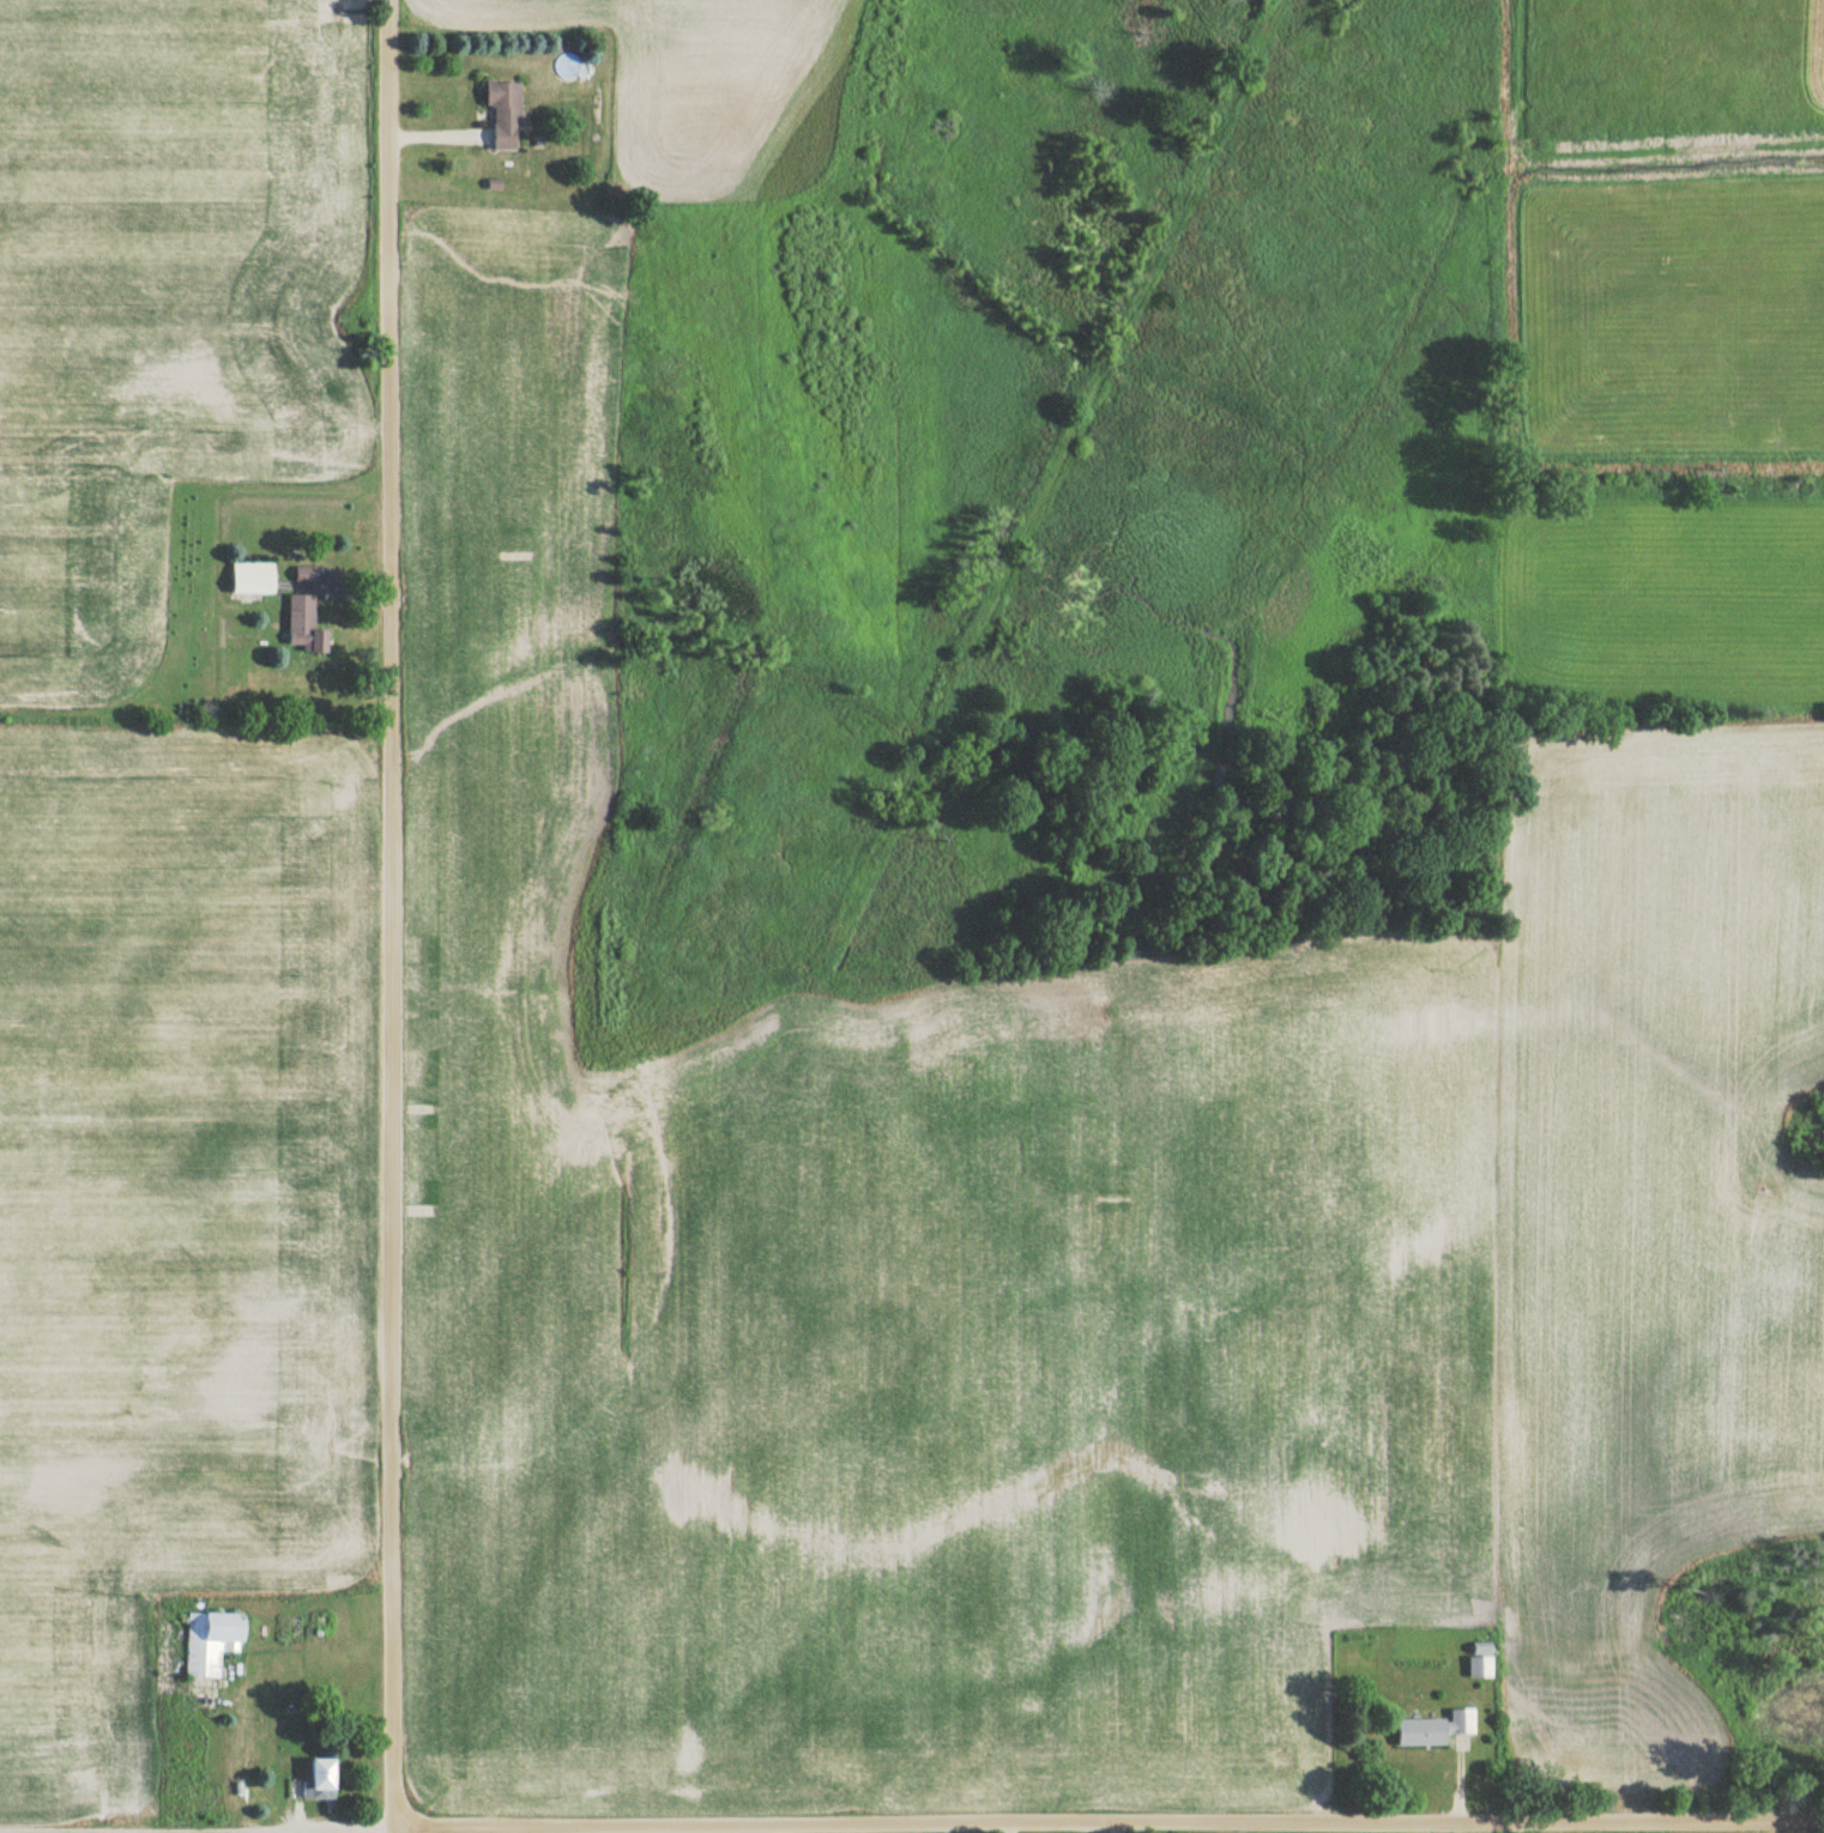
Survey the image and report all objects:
building: (568, 67)
building: (502, 115)
road: (428, 134)
building: (250, 577)
road: (344, 593)
building: (302, 627)
road: (389, 916)
building: (292, 1627)
building: (210, 1639)
building: (1432, 1730)
building: (313, 1783)
building: (210, 1786)
road: (911, 1822)

